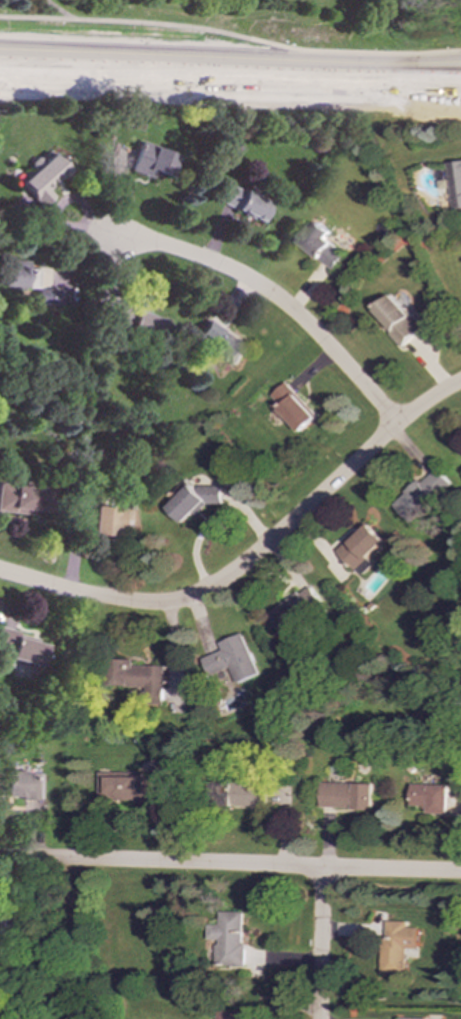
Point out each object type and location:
road: (58, 11)
park: (241, 25)
road: (230, 29)
road: (118, 44)
road: (348, 49)
road: (230, 75)
road: (230, 103)
building: (150, 160)
building: (42, 177)
building: (455, 184)
building: (244, 202)
building: (322, 245)
building: (20, 274)
road: (272, 295)
building: (48, 296)
building: (399, 320)
building: (141, 324)
building: (220, 342)
building: (292, 408)
building: (420, 495)
building: (23, 498)
building: (194, 501)
building: (113, 520)
building: (360, 548)
road: (253, 554)
building: (293, 608)
building: (19, 646)
building: (231, 659)
building: (139, 676)
building: (124, 787)
building: (242, 794)
building: (347, 796)
building: (430, 797)
road: (230, 865)
building: (11, 927)
building: (228, 939)
road: (322, 944)
building: (397, 946)
building: (228, 1015)
building: (409, 1018)

